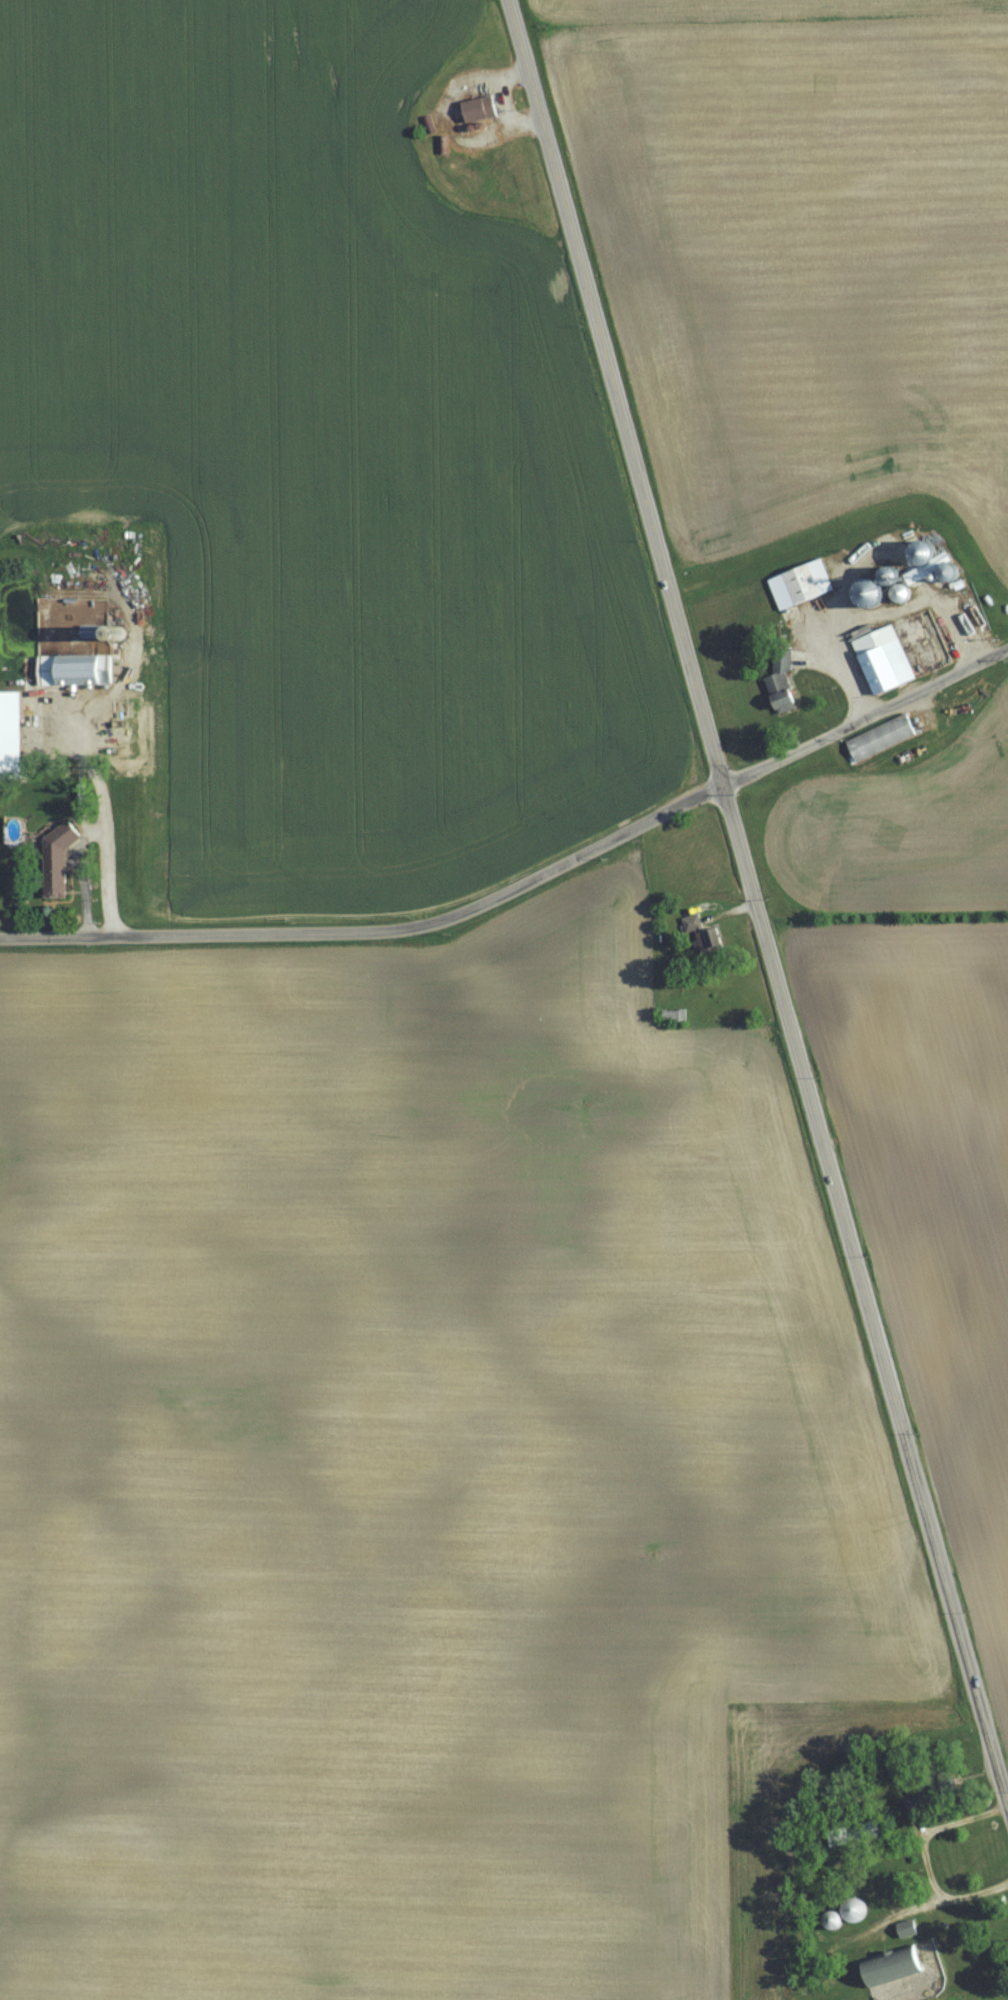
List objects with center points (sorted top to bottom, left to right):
building: (480, 108)
building: (803, 585)
building: (886, 659)
building: (78, 669)
building: (784, 684)
road: (864, 717)
building: (13, 735)
building: (882, 737)
building: (60, 860)
road: (541, 875)
road: (753, 900)
road: (176, 934)
building: (704, 936)
building: (675, 1016)
road: (922, 1850)
building: (852, 1913)
building: (908, 1929)
building: (895, 1967)

